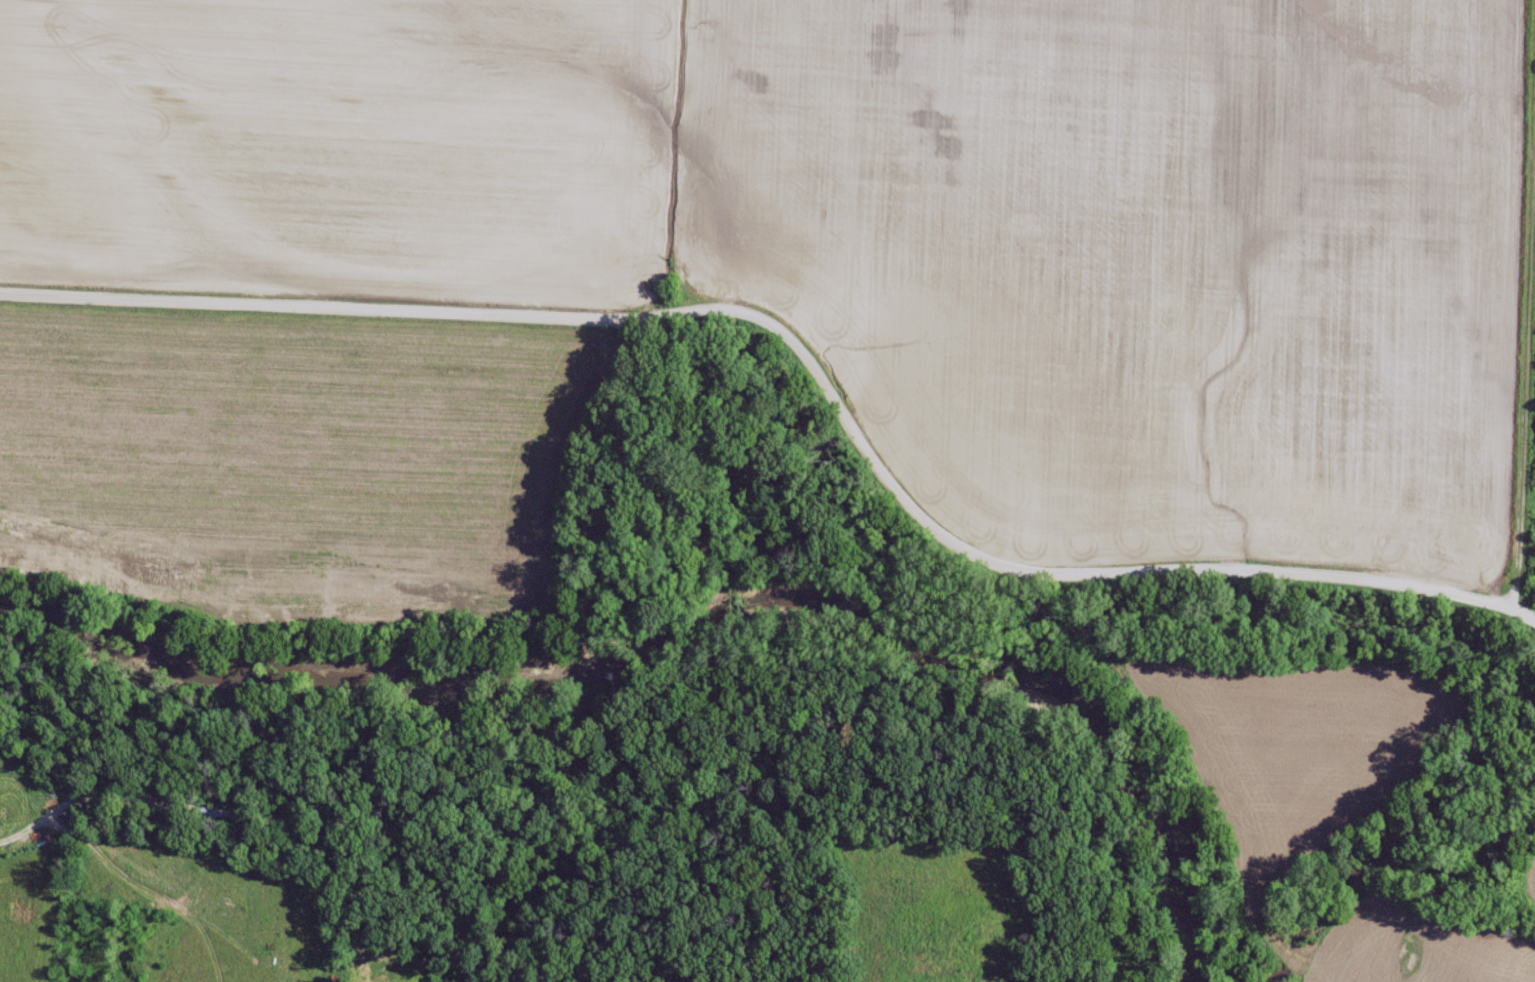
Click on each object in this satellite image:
road: (1507, 304)
road: (809, 360)
road: (74, 801)
building: (217, 816)

